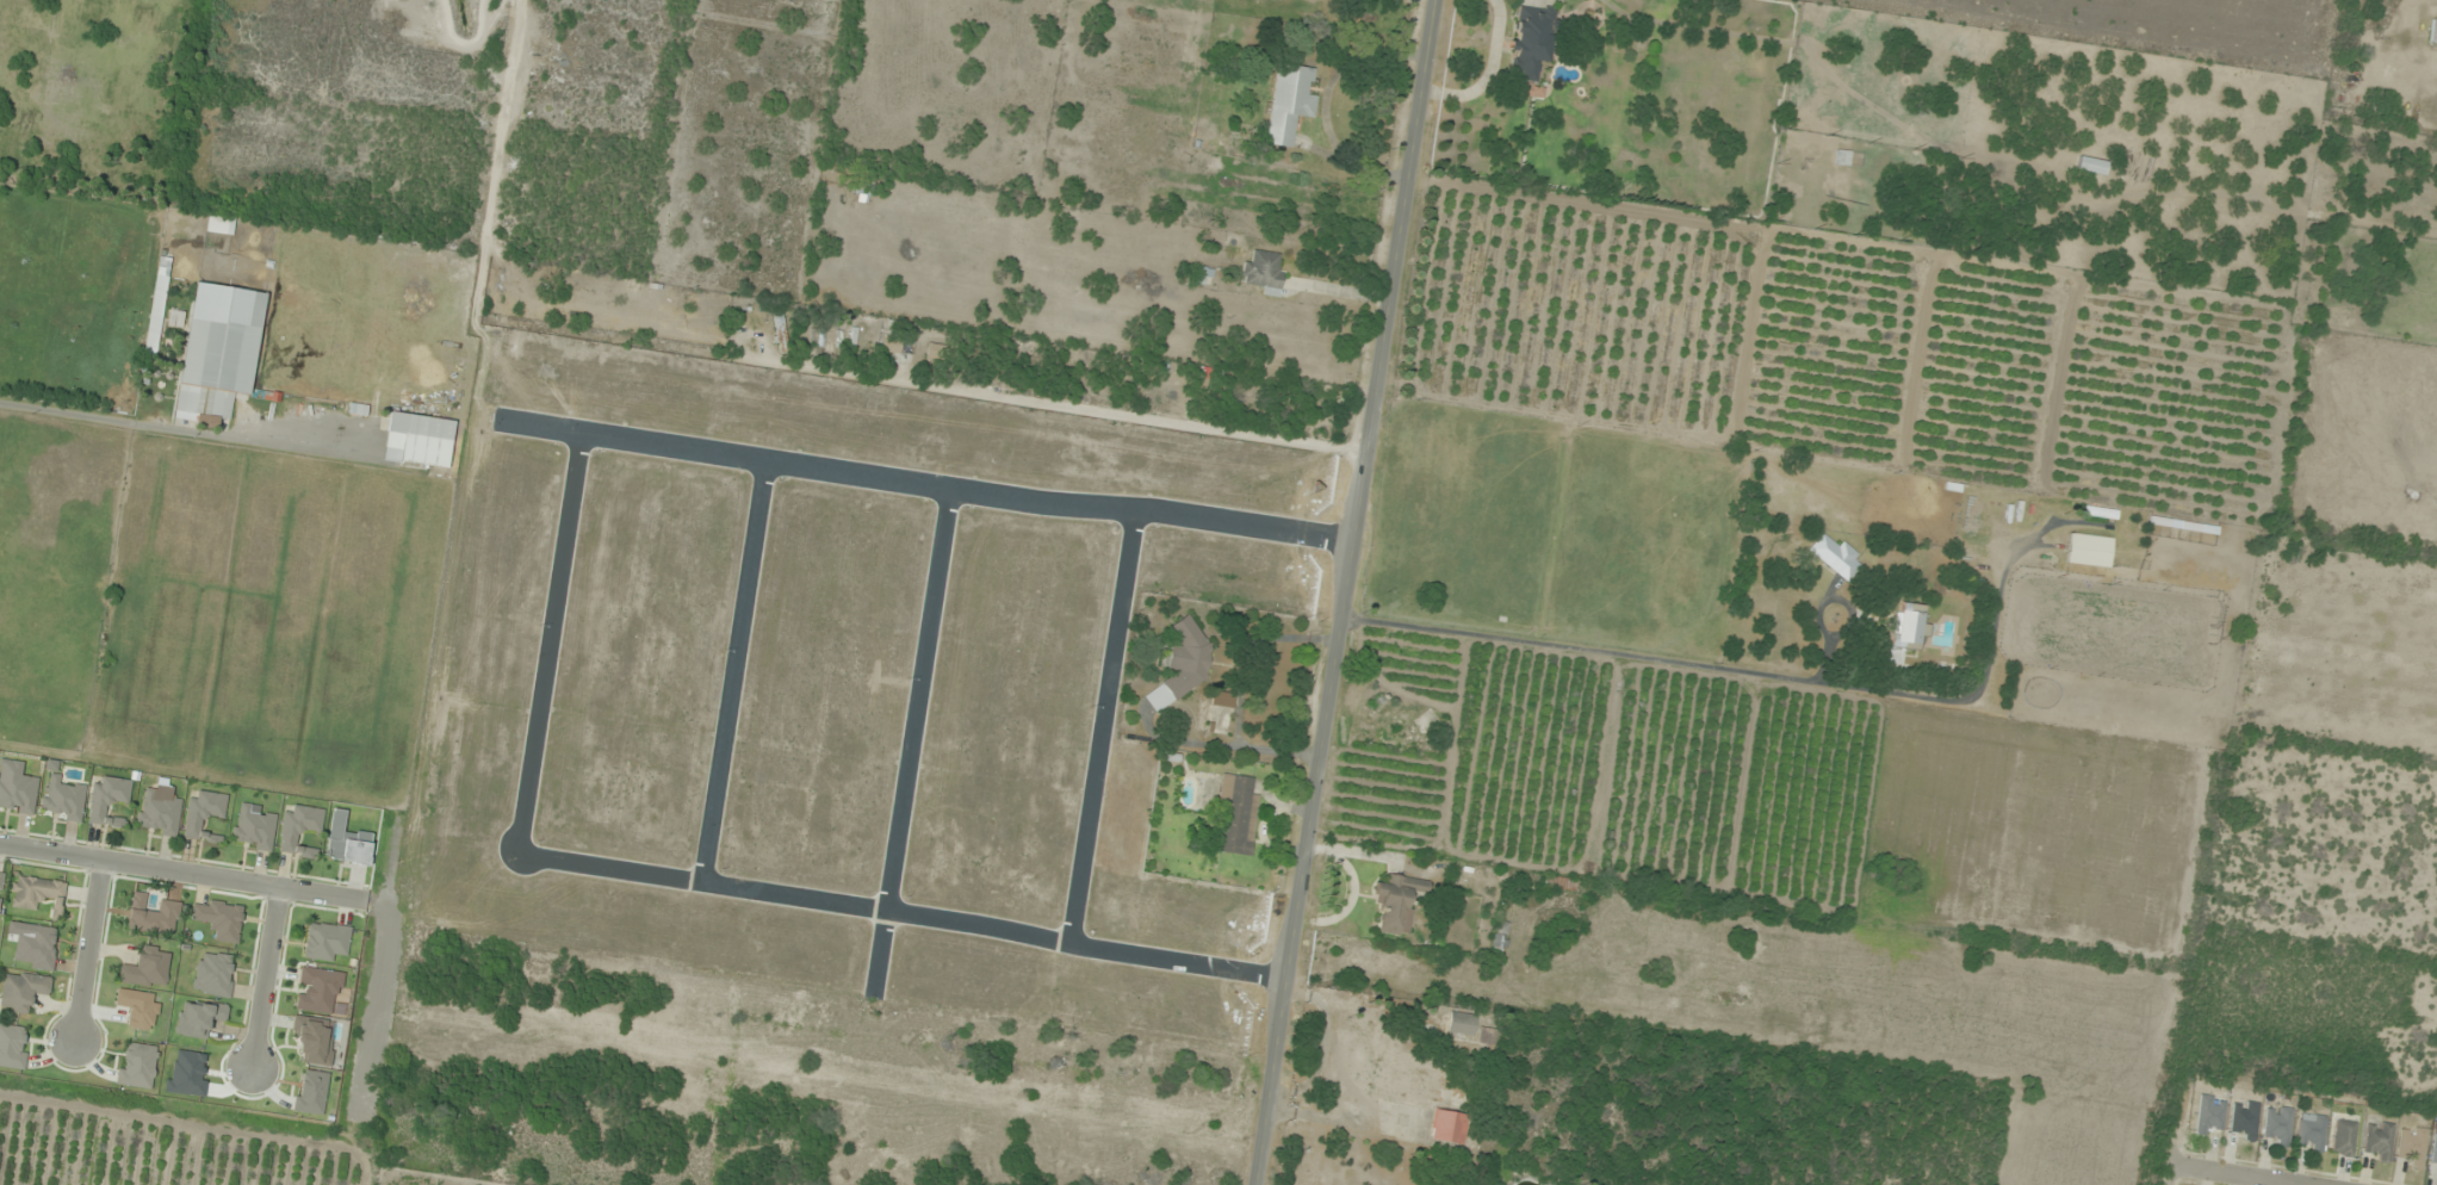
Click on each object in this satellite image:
building: (1531, 48)
building: (1290, 104)
building: (1810, 126)
building: (2091, 166)
building: (1265, 271)
building: (1204, 275)
building: (780, 330)
building: (817, 337)
building: (891, 345)
building: (218, 352)
building: (937, 352)
building: (418, 441)
road: (919, 483)
building: (2185, 526)
building: (2090, 550)
building: (1836, 556)
road: (1341, 591)
building: (1908, 632)
road: (547, 643)
building: (1183, 665)
road: (732, 671)
road: (1104, 728)
building: (1410, 737)
road: (910, 738)
building: (17, 788)
building: (63, 800)
building: (108, 800)
building: (157, 814)
building: (1238, 817)
building: (254, 829)
building: (299, 829)
building: (346, 842)
road: (193, 875)
building: (1, 876)
building: (1561, 885)
building: (36, 892)
building: (1397, 902)
road: (899, 914)
building: (153, 916)
building: (325, 942)
building: (37, 948)
road: (91, 949)
building: (147, 967)
road: (266, 979)
building: (23, 992)
road: (371, 1013)
building: (1462, 1024)
building: (1486, 1036)
building: (12, 1047)
building: (1365, 1063)
building: (137, 1065)
building: (1422, 1082)
building: (2210, 1116)
building: (2245, 1119)
building: (2277, 1125)
building: (1447, 1127)
building: (2312, 1131)
building: (2344, 1139)
building: (2380, 1142)
building: (2412, 1146)
building: (2435, 1155)
road: (2238, 1175)

